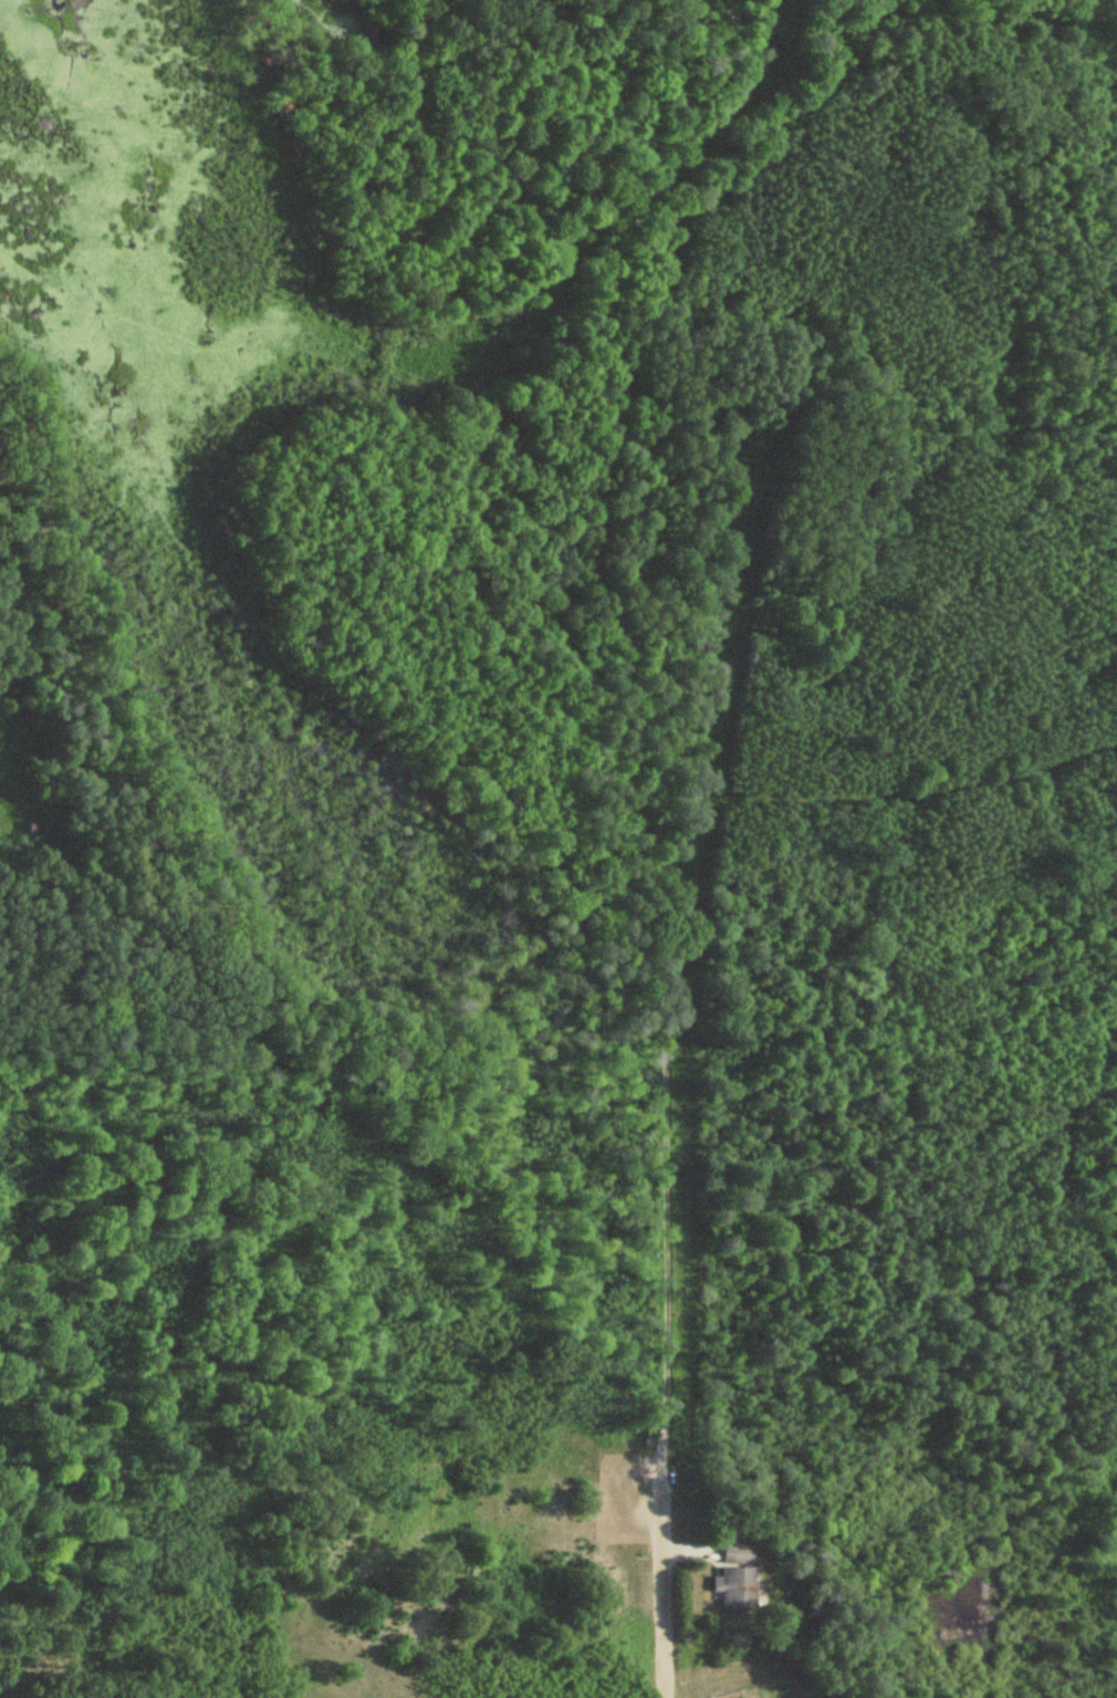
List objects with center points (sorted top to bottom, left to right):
building: (743, 475)
road: (667, 960)
building: (735, 1553)
building: (734, 1587)

